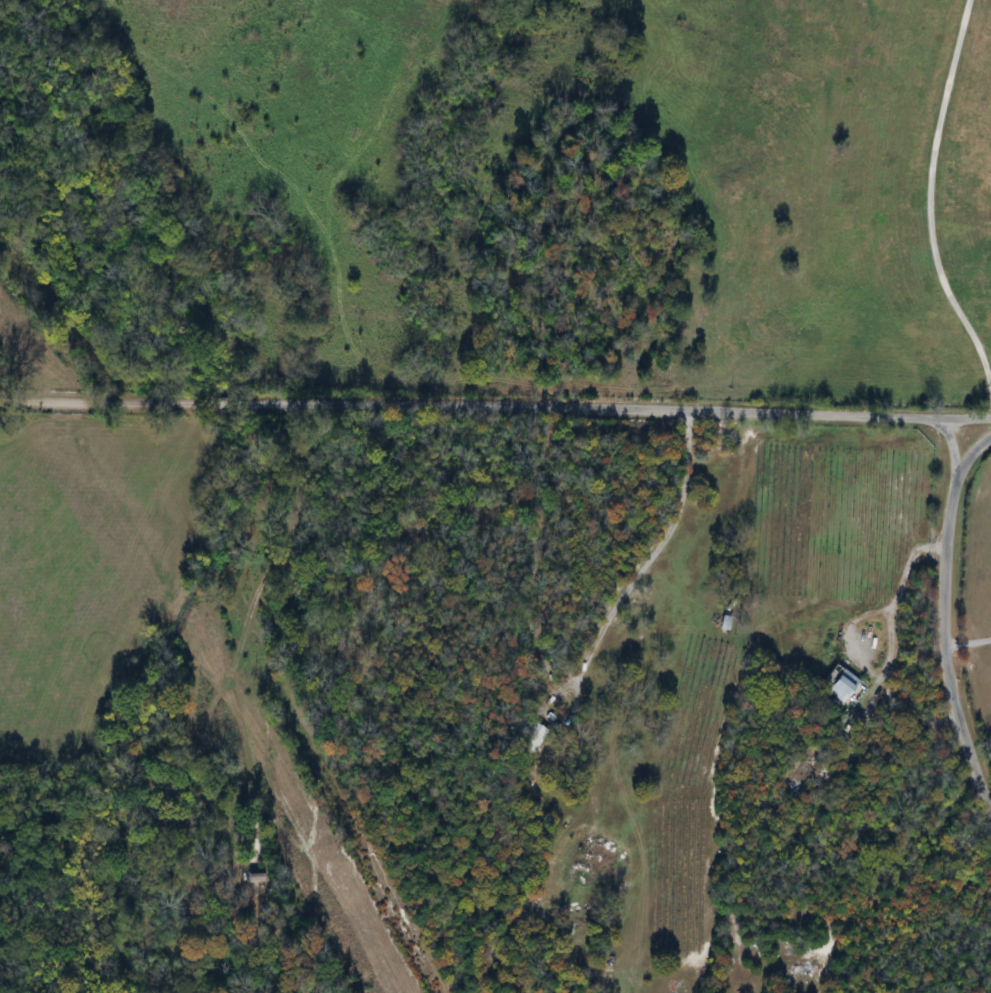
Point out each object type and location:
road: (929, 203)
road: (495, 407)
road: (626, 600)
building: (728, 623)
road: (943, 626)
road: (967, 642)
road: (890, 648)
building: (847, 688)
building: (536, 736)
building: (248, 876)

